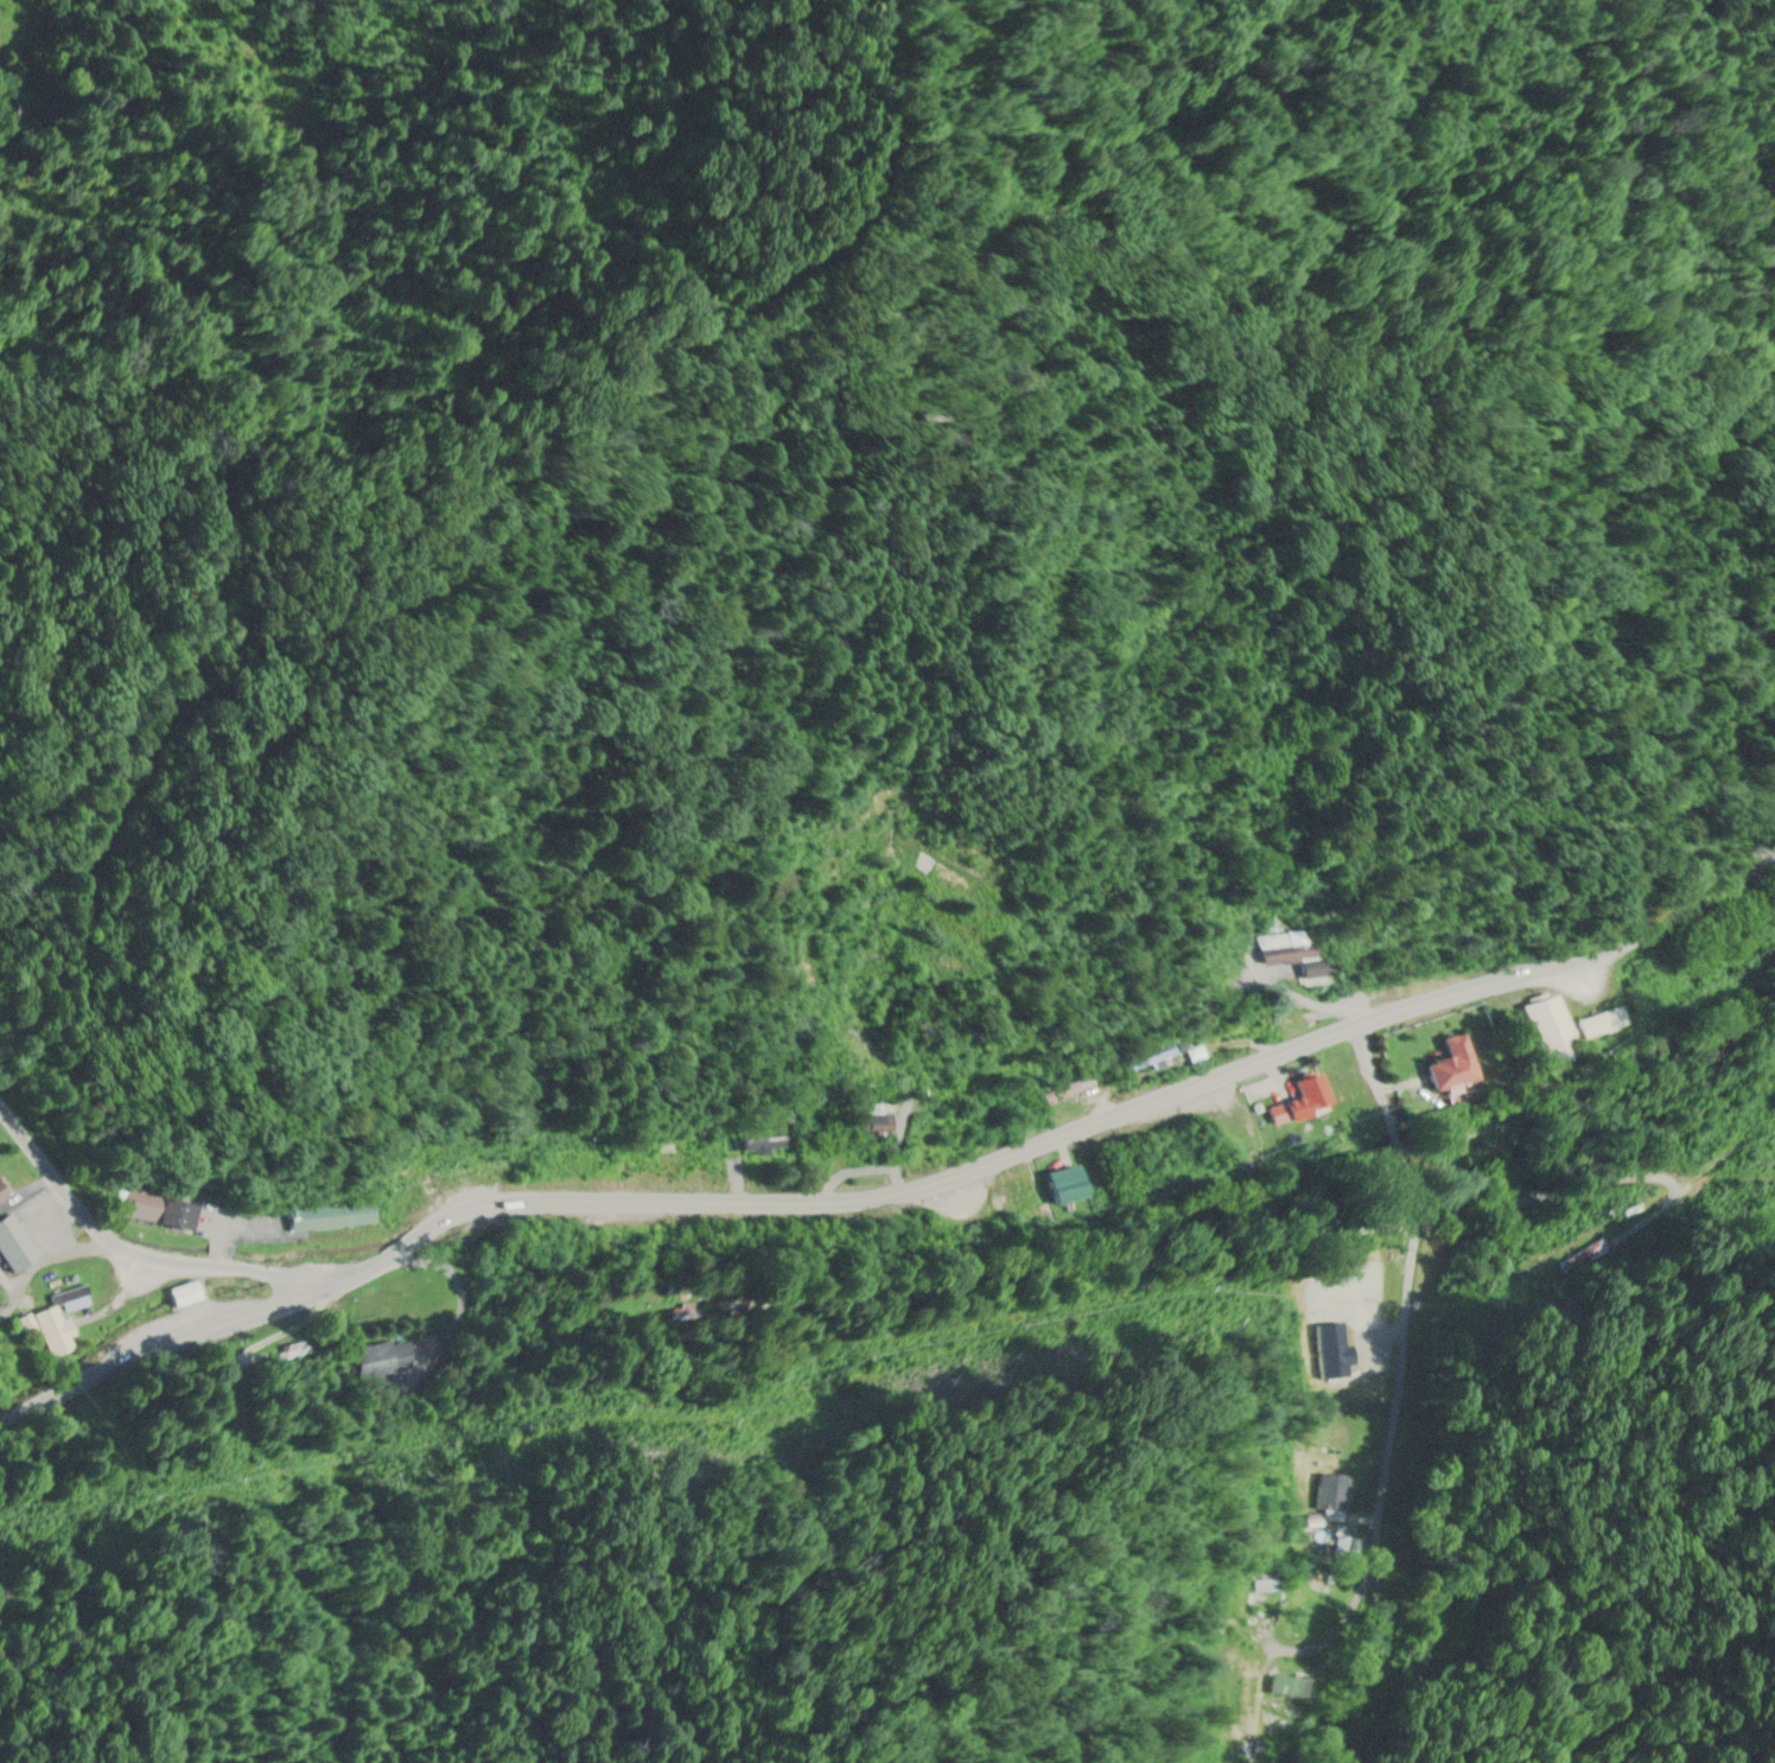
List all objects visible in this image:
building: (937, 878)
building: (1272, 925)
building: (1287, 954)
building: (1598, 1025)
building: (1547, 1032)
building: (1147, 1059)
building: (1448, 1067)
building: (1340, 1084)
building: (1068, 1093)
building: (1298, 1102)
building: (873, 1124)
building: (763, 1143)
building: (965, 1143)
building: (661, 1163)
building: (564, 1169)
road: (892, 1175)
building: (1064, 1188)
building: (1017, 1203)
building: (155, 1211)
building: (329, 1220)
building: (12, 1245)
road: (140, 1255)
road: (45, 1261)
building: (1586, 1261)
road: (8, 1281)
building: (180, 1297)
road: (1413, 1304)
building: (27, 1329)
building: (49, 1342)
building: (388, 1360)
building: (2, 1368)
building: (1353, 1370)
building: (1286, 1692)

